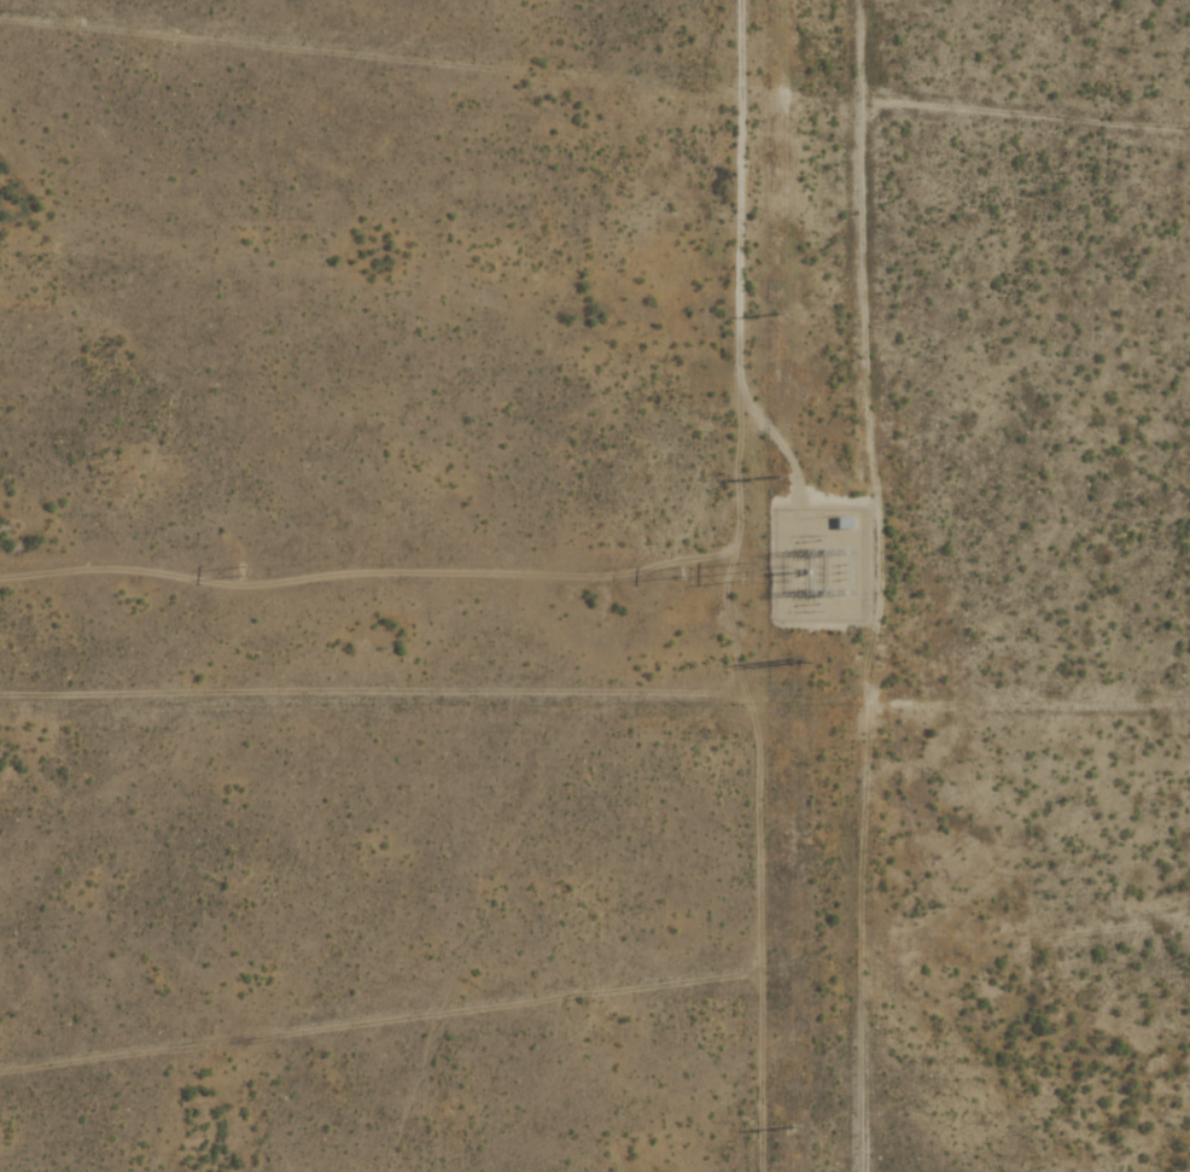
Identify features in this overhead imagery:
power tower: (777, 313)
power tower: (777, 476)
power substation: (817, 564)
power tower: (245, 573)
power tower: (688, 575)
power tower: (752, 575)
power tower: (794, 664)
power tower: (789, 1126)

